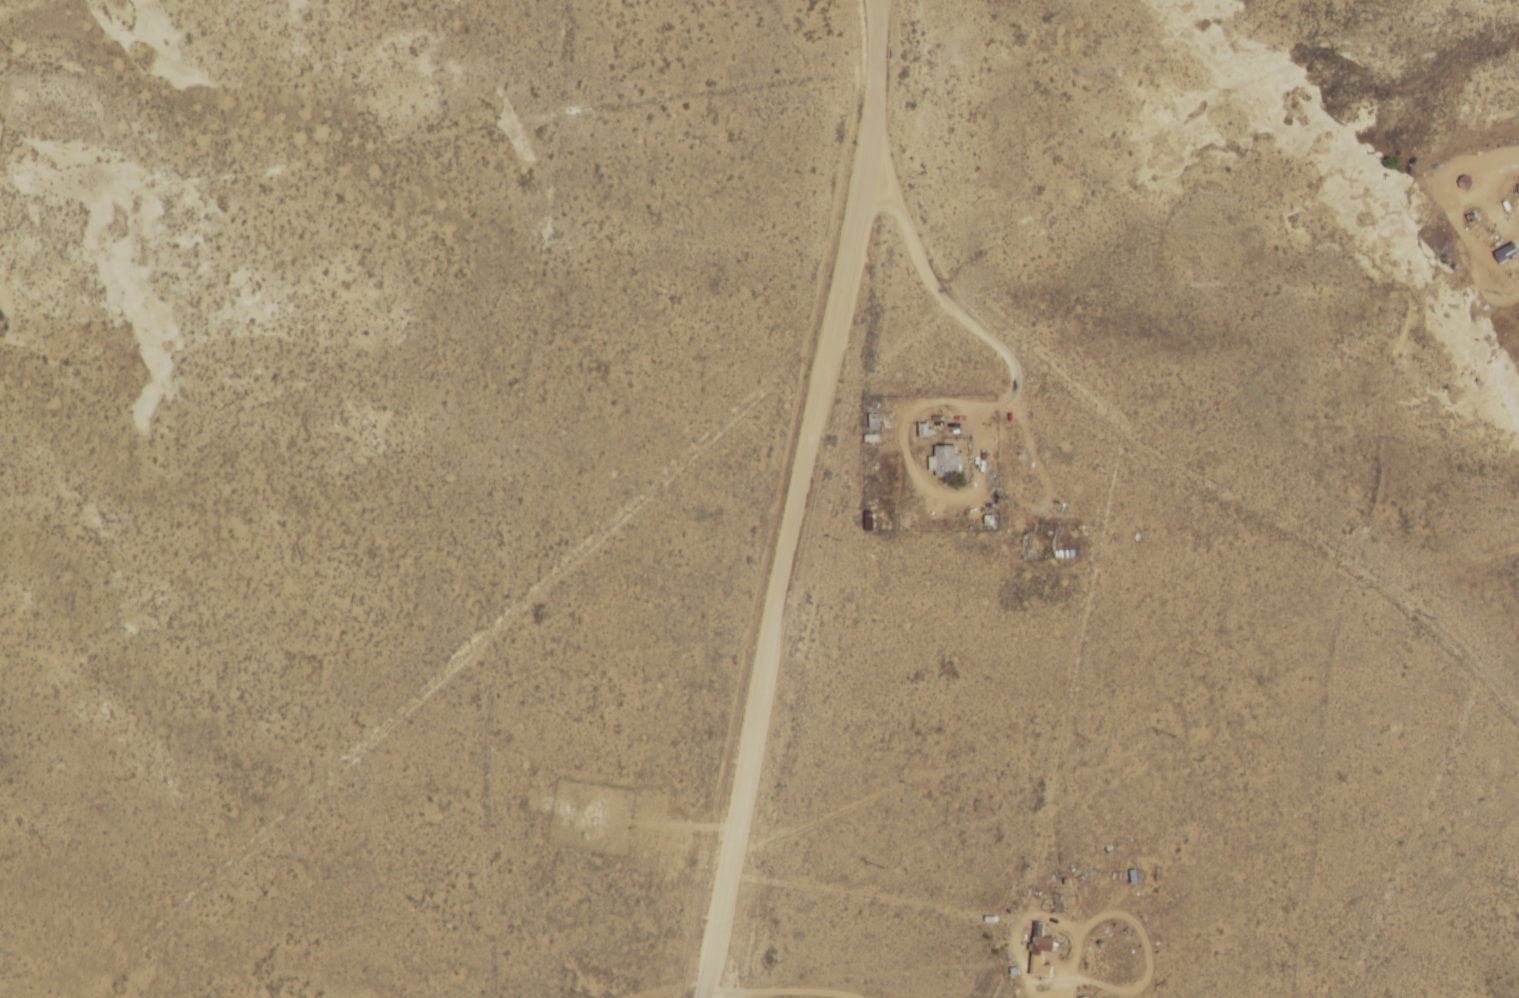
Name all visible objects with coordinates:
building: (1507, 254)
road: (1152, 452)
building: (947, 460)
road: (812, 500)
building: (1041, 940)

